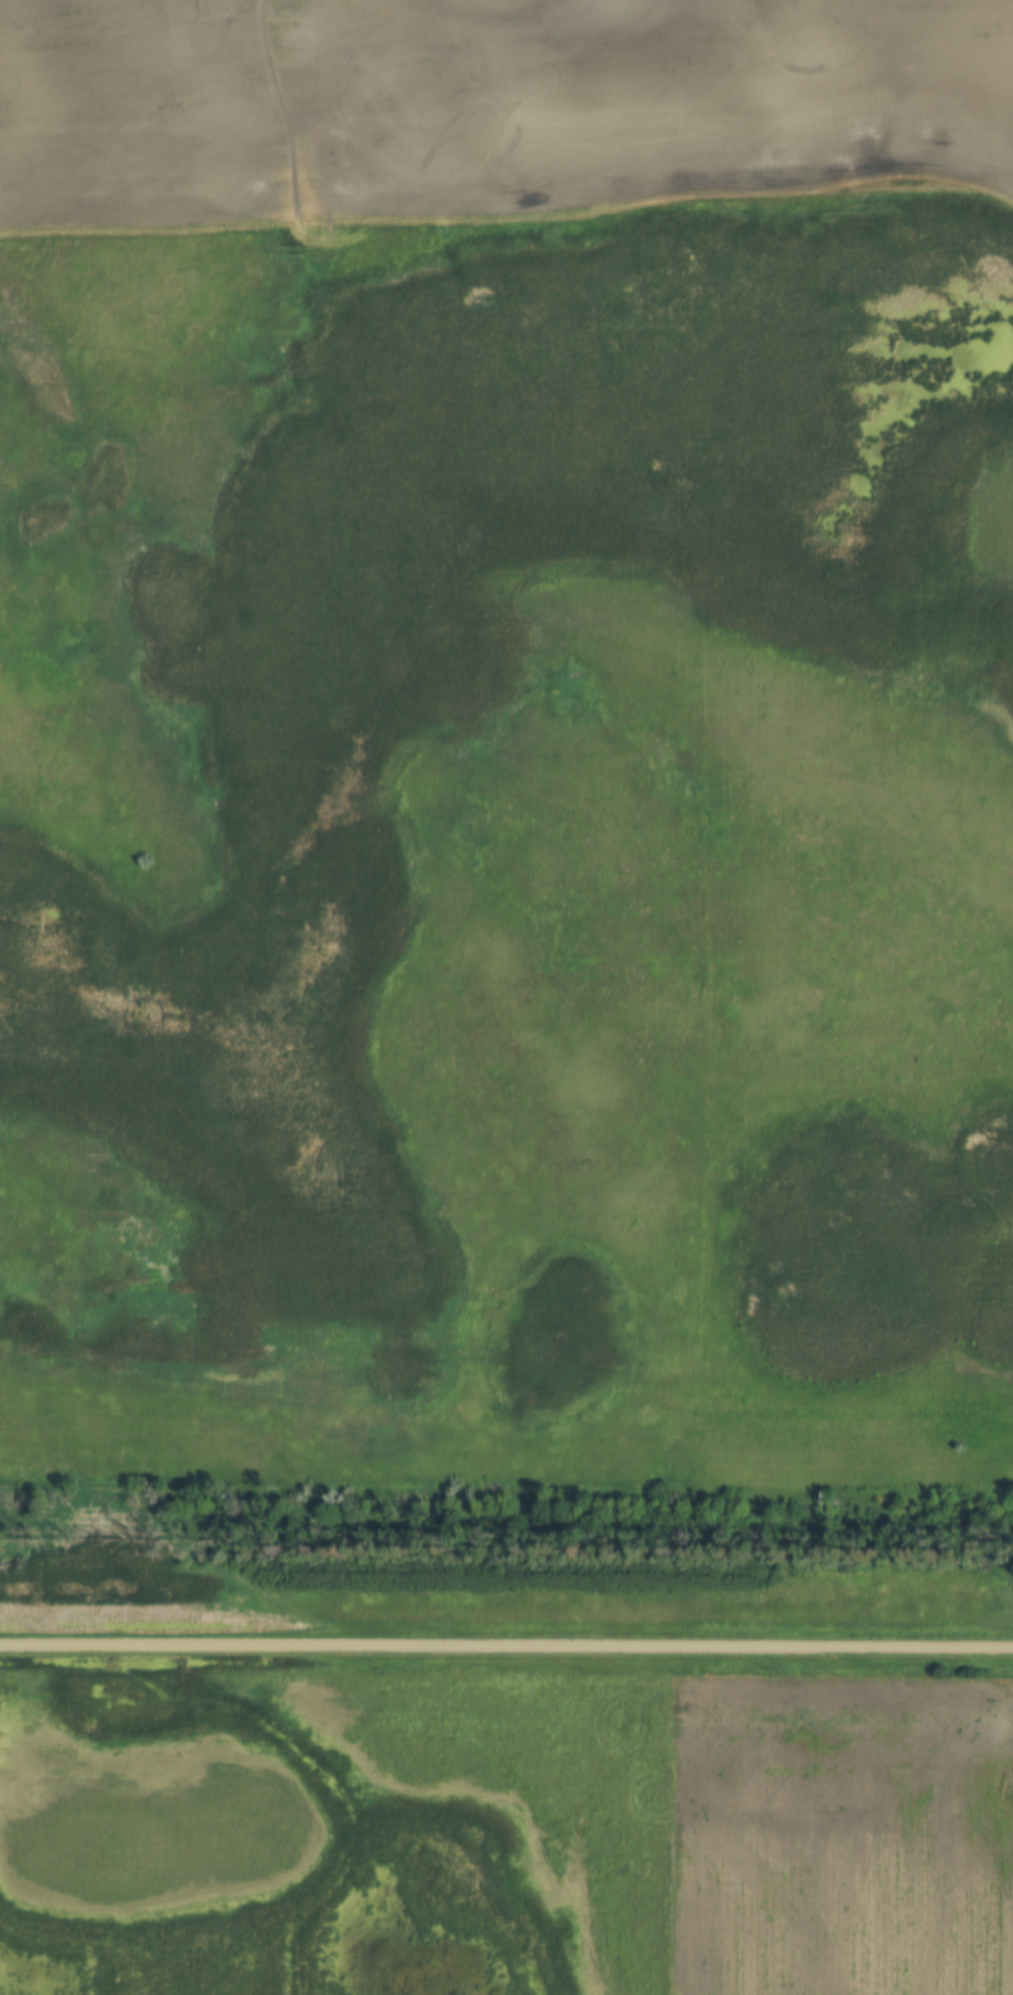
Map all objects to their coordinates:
road: (506, 1649)

